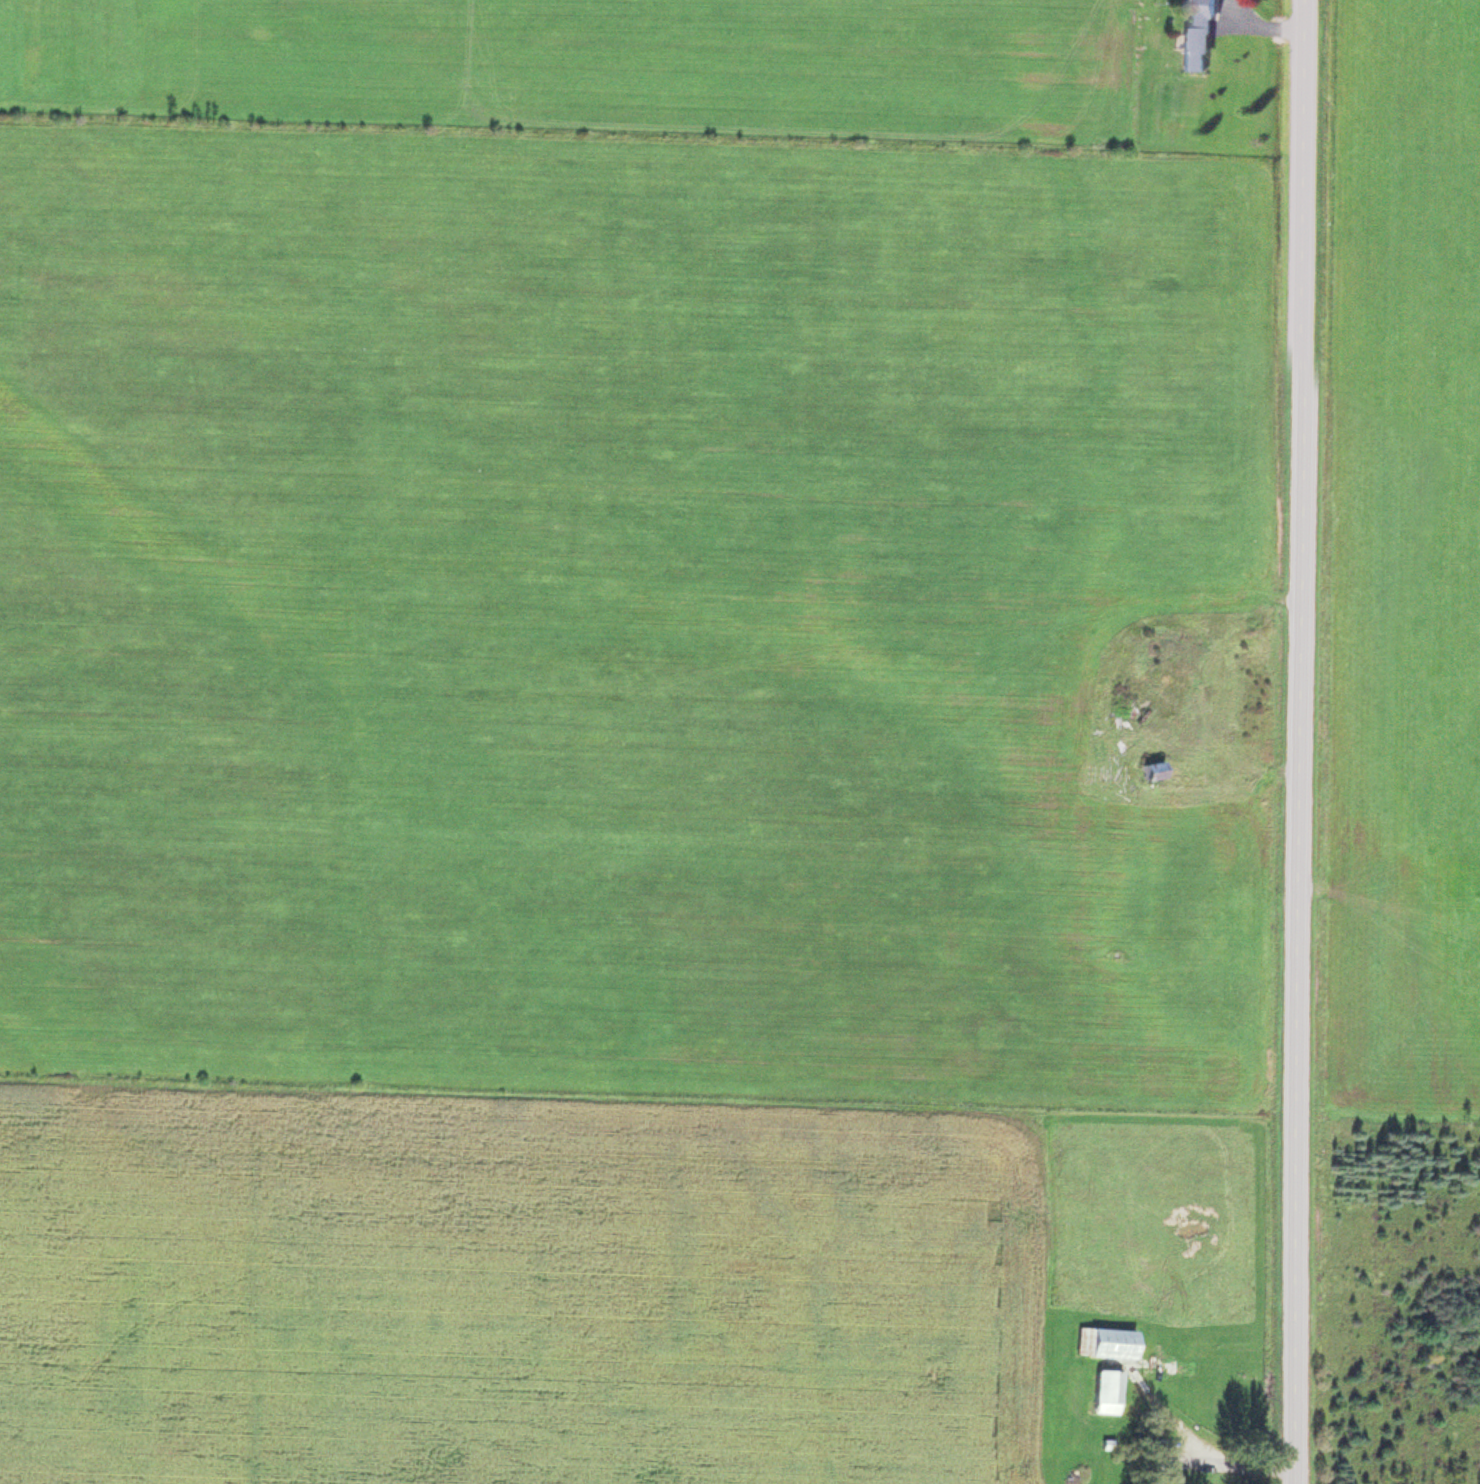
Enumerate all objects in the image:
building: (1194, 36)
building: (1121, 676)
building: (1115, 716)
road: (1300, 742)
building: (1149, 769)
building: (1102, 1340)
building: (1103, 1390)

